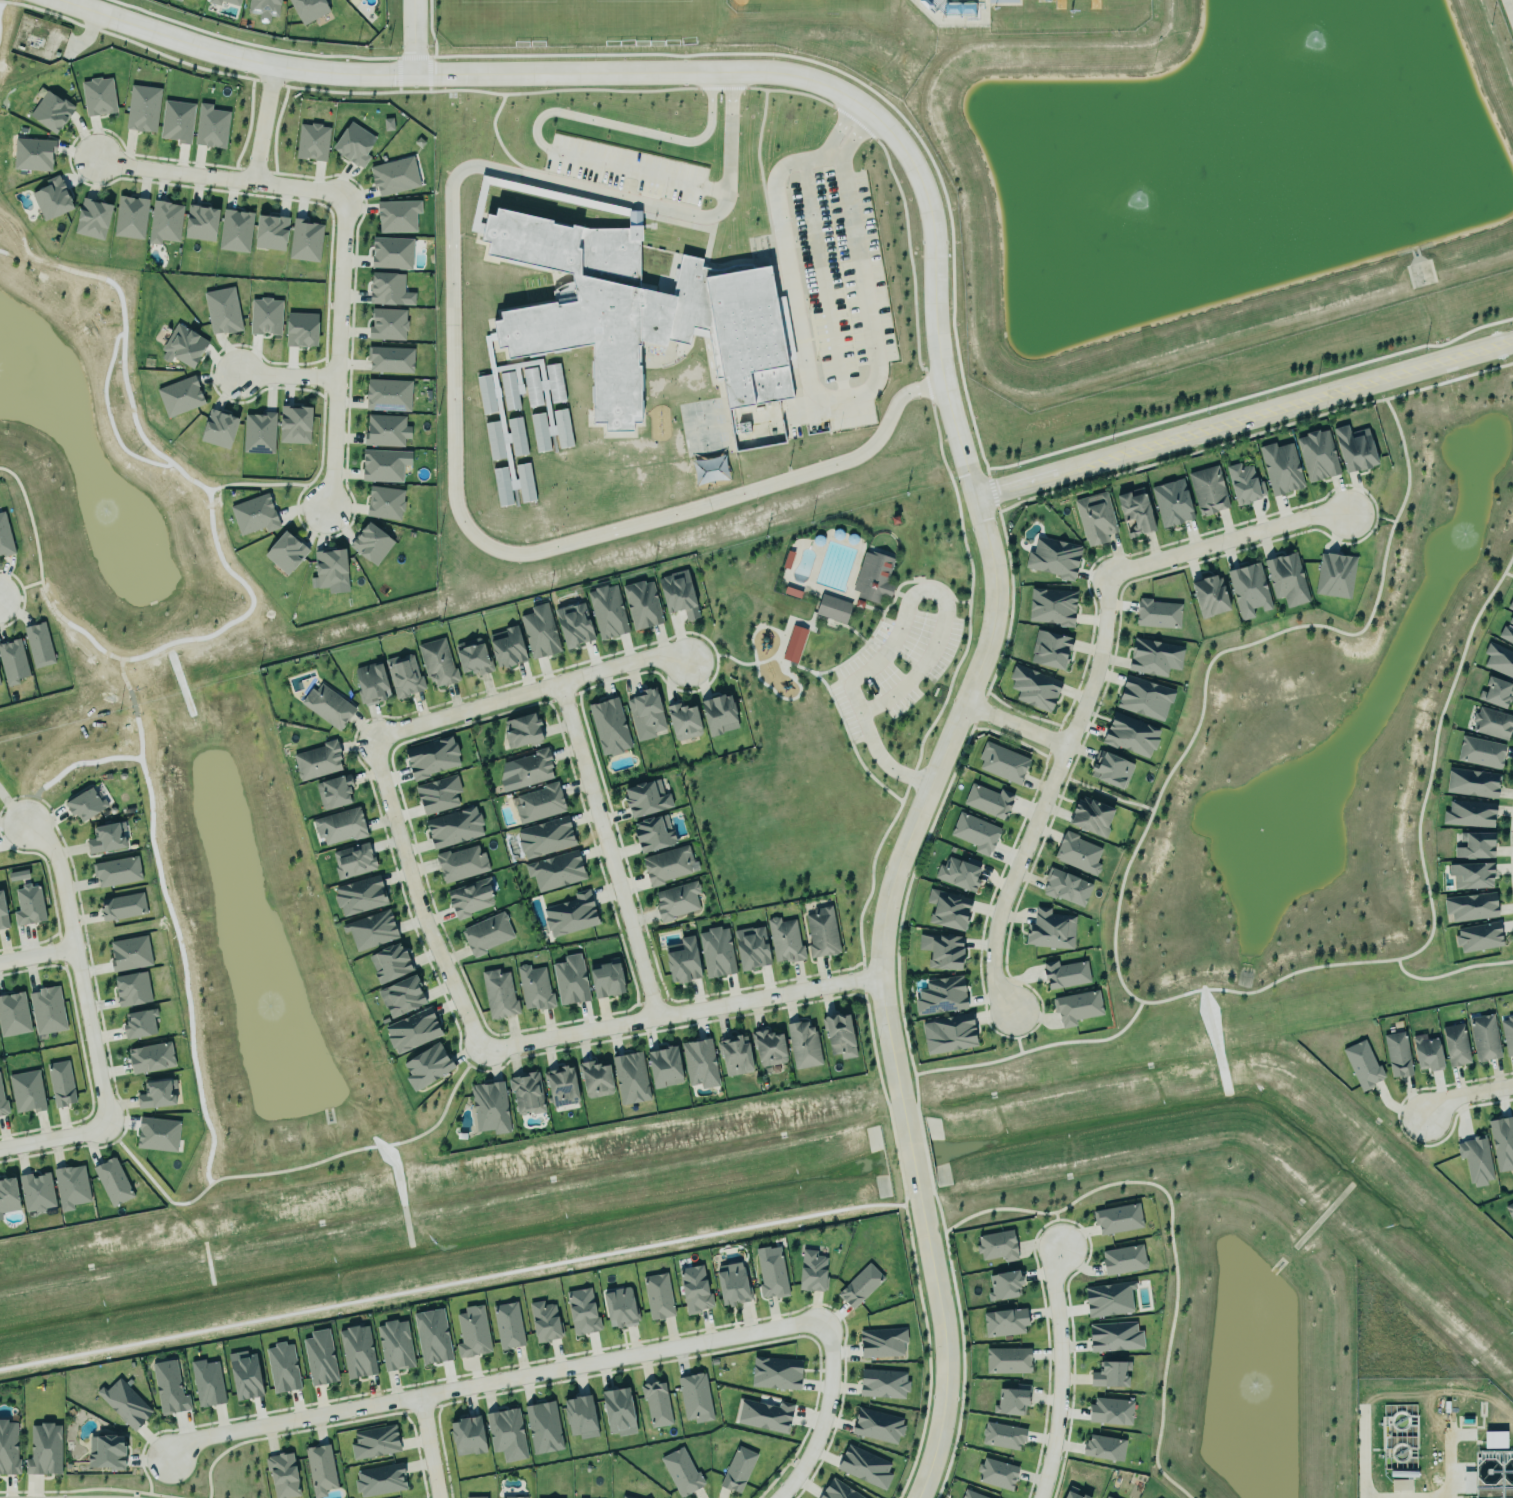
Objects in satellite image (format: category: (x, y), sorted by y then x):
building: (214, 1)
building: (233, 1)
park: (806, 6)
building: (264, 9)
building: (308, 9)
road: (1508, 12)
road: (413, 38)
fountain: (1324, 39)
road: (461, 75)
building: (98, 97)
building: (142, 108)
building: (49, 110)
road: (540, 115)
building: (176, 121)
road: (261, 123)
building: (388, 124)
building: (211, 127)
building: (312, 142)
building: (354, 145)
building: (33, 154)
building: (394, 174)
road: (217, 177)
fountain: (1139, 197)
building: (52, 198)
building: (607, 209)
building: (397, 216)
building: (130, 217)
building: (92, 219)
building: (164, 222)
building: (201, 223)
building: (236, 227)
building: (270, 230)
building: (303, 239)
building: (391, 252)
building: (389, 290)
building: (222, 311)
building: (639, 311)
building: (265, 316)
building: (388, 324)
building: (300, 327)
building: (183, 344)
road: (336, 350)
building: (390, 359)
road: (285, 374)
building: (542, 385)
building: (510, 390)
road: (846, 393)
building: (485, 394)
building: (388, 395)
building: (178, 396)
road: (444, 414)
road: (1244, 418)
building: (295, 425)
building: (218, 429)
building: (386, 430)
building: (551, 430)
building: (258, 433)
building: (494, 440)
building: (1354, 448)
road: (1190, 453)
building: (1314, 454)
building: (380, 464)
building: (1278, 467)
building: (1241, 482)
building: (513, 484)
building: (1205, 489)
building: (1169, 501)
building: (385, 503)
building: (1132, 512)
building: (254, 515)
building: (1092, 516)
road: (1386, 518)
fountain: (121, 529)
building: (5, 537)
road: (1226, 540)
building: (371, 542)
building: (285, 553)
building: (1052, 556)
building: (329, 566)
building: (1335, 575)
road: (1508, 575)
building: (873, 577)
building: (1284, 577)
building: (1246, 588)
building: (678, 594)
building: (1209, 596)
building: (1509, 602)
building: (639, 603)
building: (1049, 605)
building: (833, 609)
building: (605, 610)
road: (995, 610)
building: (1158, 614)
building: (571, 623)
building: (537, 630)
building: (1505, 630)
building: (36, 643)
building: (794, 644)
road: (927, 644)
building: (507, 645)
building: (1047, 648)
building: (1151, 656)
building: (470, 657)
building: (1499, 660)
building: (436, 661)
building: (12, 662)
building: (403, 675)
building: (372, 683)
building: (0, 684)
building: (1031, 686)
building: (1495, 689)
road: (528, 694)
building: (1142, 697)
building: (326, 705)
building: (716, 713)
building: (645, 714)
building: (680, 720)
building: (1490, 721)
building: (607, 725)
road: (1017, 725)
building: (519, 729)
building: (1130, 735)
building: (1478, 751)
building: (428, 757)
building: (317, 761)
building: (1000, 761)
building: (530, 769)
building: (1110, 770)
building: (1470, 781)
building: (332, 790)
building: (435, 793)
road: (1048, 793)
road: (1109, 794)
building: (643, 797)
building: (987, 799)
building: (537, 802)
building: (85, 804)
building: (1469, 814)
building: (1087, 815)
building: (338, 824)
building: (451, 826)
fountain: (1252, 830)
building: (973, 832)
building: (653, 833)
building: (545, 837)
building: (105, 839)
building: (1474, 846)
road: (609, 851)
building: (1078, 853)
building: (351, 859)
building: (458, 863)
building: (666, 864)
building: (553, 869)
building: (114, 870)
building: (955, 873)
building: (1468, 874)
building: (18, 875)
building: (1063, 886)
building: (357, 894)
building: (471, 898)
road: (418, 899)
building: (674, 900)
building: (27, 904)
building: (1469, 905)
building: (121, 906)
building: (945, 908)
road: (1116, 909)
building: (568, 913)
building: (3, 914)
building: (371, 930)
building: (1050, 930)
building: (819, 931)
building: (484, 932)
building: (1478, 937)
building: (785, 940)
building: (748, 946)
building: (939, 950)
building: (713, 951)
building: (128, 952)
road: (38, 957)
building: (682, 960)
building: (387, 961)
road: (79, 968)
building: (1062, 973)
road: (1450, 973)
building: (568, 979)
building: (606, 979)
building: (130, 986)
building: (532, 987)
building: (496, 993)
building: (399, 994)
building: (938, 995)
building: (1075, 1006)
fountain: (266, 1008)
building: (47, 1010)
road: (681, 1013)
building: (13, 1015)
building: (137, 1022)
building: (410, 1029)
building: (946, 1032)
building: (837, 1034)
building: (1507, 1035)
building: (1484, 1038)
building: (1453, 1043)
building: (801, 1044)
road: (1018, 1046)
building: (766, 1047)
road: (1033, 1049)
building: (1427, 1053)
building: (1397, 1054)
building: (734, 1056)
building: (151, 1058)
building: (697, 1062)
building: (424, 1064)
building: (1360, 1064)
building: (661, 1066)
building: (628, 1077)
building: (592, 1078)
building: (59, 1082)
building: (558, 1085)
building: (26, 1092)
building: (524, 1092)
building: (157, 1094)
road: (1465, 1095)
building: (2, 1103)
building: (488, 1104)
building: (157, 1134)
road: (54, 1138)
building: (1501, 1140)
road: (911, 1152)
building: (1474, 1159)
building: (112, 1182)
building: (68, 1185)
building: (35, 1188)
building: (7, 1194)
building: (1509, 1211)
building: (1118, 1219)
building: (995, 1245)
building: (1120, 1259)
building: (810, 1271)
building: (770, 1274)
building: (730, 1285)
building: (858, 1285)
building: (1004, 1285)
building: (692, 1289)
building: (658, 1296)
building: (1106, 1298)
building: (619, 1307)
building: (579, 1311)
building: (542, 1320)
building: (1002, 1321)
building: (505, 1325)
building: (470, 1331)
building: (428, 1336)
building: (1114, 1337)
building: (879, 1342)
road: (945, 1342)
building: (392, 1344)
building: (357, 1352)
building: (317, 1357)
building: (1005, 1359)
building: (280, 1366)
building: (773, 1372)
building: (1108, 1373)
building: (242, 1374)
road: (1061, 1374)
road: (495, 1380)
building: (207, 1383)
building: (881, 1383)
building: (167, 1387)
building: (693, 1397)
building: (1008, 1401)
building: (653, 1402)
building: (122, 1403)
building: (616, 1411)
building: (1111, 1411)
building: (764, 1415)
road: (825, 1415)
building: (577, 1416)
building: (875, 1424)
building: (541, 1426)
building: (504, 1433)
building: (465, 1435)
building: (1000, 1435)
building: (1494, 1439)
building: (372, 1441)
road: (428, 1446)
building: (1102, 1447)
building: (7, 1448)
building: (41, 1449)
building: (104, 1451)
road: (1363, 1465)
building: (318, 1467)
building: (862, 1467)
building: (735, 1469)
building: (679, 1471)
building: (280, 1474)
building: (997, 1474)
building: (378, 1479)
building: (1468, 1482)
building: (1400, 1485)
building: (838, 1491)
building: (969, 1494)
building: (1072, 1495)
building: (473, 1496)
building: (625, 1496)
building: (510, 1497)
building: (1107, 1497)

